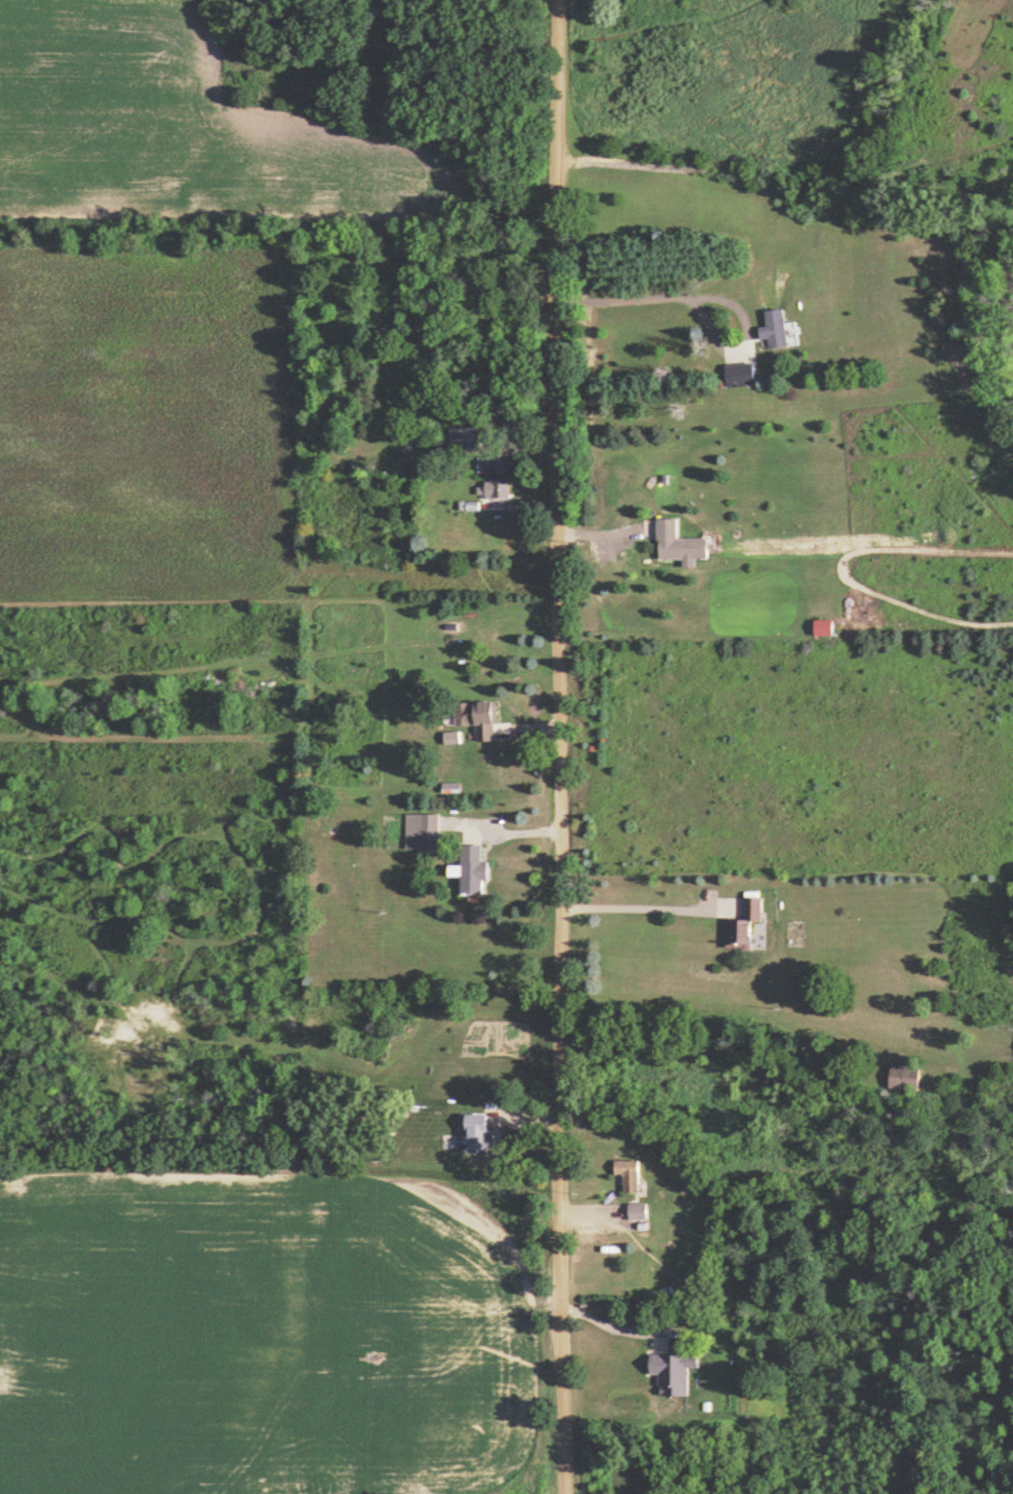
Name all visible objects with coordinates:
crop: (179, 128)
road: (711, 296)
building: (776, 328)
building: (740, 374)
crop: (143, 430)
building: (466, 437)
building: (499, 463)
building: (498, 487)
building: (679, 542)
building: (479, 716)
building: (451, 736)
road: (560, 746)
building: (423, 830)
road: (506, 830)
building: (471, 868)
road: (633, 907)
building: (744, 924)
building: (905, 1077)
building: (479, 1132)
building: (629, 1174)
building: (639, 1211)
road: (606, 1324)
building: (674, 1371)

